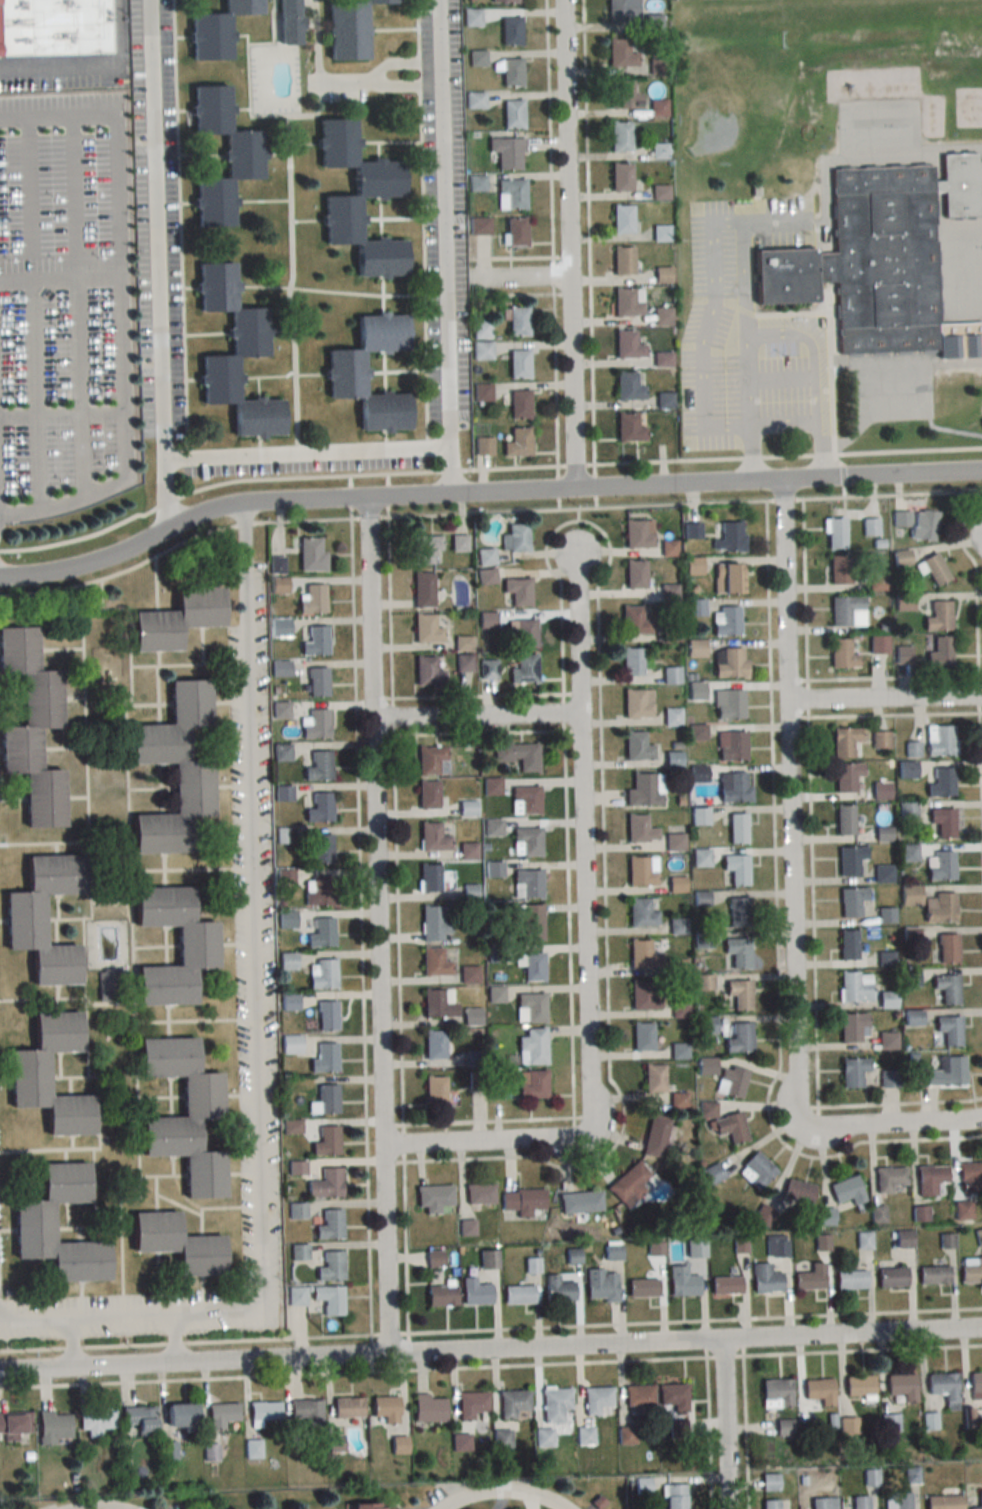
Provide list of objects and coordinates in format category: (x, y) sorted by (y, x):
building: (505, 1)
building: (621, 12)
building: (471, 17)
building: (287, 22)
building: (52, 25)
building: (214, 30)
building: (345, 30)
building: (510, 31)
building: (619, 54)
road: (87, 62)
building: (510, 72)
road: (374, 74)
road: (346, 77)
building: (621, 96)
building: (657, 108)
road: (58, 113)
building: (512, 114)
road: (553, 127)
building: (619, 137)
building: (658, 151)
building: (506, 152)
building: (240, 156)
building: (59, 169)
building: (620, 177)
road: (73, 182)
building: (476, 182)
road: (28, 184)
road: (118, 192)
building: (660, 192)
building: (510, 193)
building: (350, 197)
building: (621, 218)
building: (514, 231)
road: (590, 231)
building: (660, 232)
road: (568, 242)
building: (881, 259)
building: (622, 260)
road: (554, 274)
building: (661, 274)
road: (60, 275)
road: (517, 279)
building: (627, 301)
building: (663, 315)
building: (516, 320)
building: (480, 329)
road: (704, 331)
building: (627, 344)
road: (748, 348)
building: (233, 354)
building: (662, 359)
building: (518, 363)
building: (342, 372)
road: (813, 372)
road: (782, 374)
road: (124, 375)
road: (556, 379)
road: (79, 385)
building: (628, 385)
road: (34, 392)
building: (664, 400)
building: (518, 404)
road: (62, 413)
building: (628, 428)
road: (949, 428)
building: (517, 442)
road: (301, 451)
road: (576, 464)
road: (450, 469)
road: (484, 490)
road: (165, 491)
road: (893, 495)
road: (785, 499)
road: (66, 501)
road: (578, 509)
road: (579, 514)
road: (371, 517)
building: (917, 523)
building: (870, 526)
building: (691, 530)
building: (834, 533)
building: (636, 535)
building: (729, 537)
building: (515, 538)
building: (458, 542)
building: (424, 548)
building: (310, 554)
building: (485, 556)
building: (839, 569)
building: (933, 569)
building: (634, 574)
building: (486, 576)
building: (728, 578)
building: (876, 583)
road: (980, 583)
building: (423, 589)
road: (806, 589)
building: (516, 592)
building: (670, 593)
building: (312, 600)
road: (392, 607)
building: (847, 611)
building: (938, 616)
building: (173, 619)
building: (634, 621)
building: (725, 621)
building: (426, 629)
building: (525, 633)
building: (671, 634)
building: (315, 640)
building: (463, 643)
building: (877, 644)
building: (695, 647)
building: (939, 652)
building: (841, 654)
building: (902, 654)
building: (631, 661)
building: (729, 662)
building: (463, 663)
building: (488, 669)
building: (524, 669)
building: (427, 672)
building: (671, 675)
road: (895, 677)
building: (317, 681)
road: (981, 694)
road: (479, 695)
road: (808, 697)
road: (885, 701)
building: (637, 703)
building: (728, 703)
road: (564, 711)
road: (896, 714)
road: (395, 716)
road: (474, 717)
building: (672, 717)
building: (315, 724)
building: (30, 729)
building: (697, 732)
road: (480, 733)
building: (880, 740)
building: (940, 740)
building: (846, 742)
building: (731, 745)
building: (637, 746)
building: (912, 749)
building: (281, 752)
building: (519, 755)
building: (673, 759)
building: (431, 760)
building: (318, 766)
building: (171, 770)
building: (906, 770)
building: (847, 778)
building: (941, 783)
building: (734, 787)
building: (645, 790)
building: (427, 794)
building: (525, 800)
road: (790, 802)
building: (319, 808)
building: (467, 808)
building: (844, 819)
building: (942, 822)
building: (492, 828)
building: (639, 828)
building: (737, 828)
building: (432, 837)
road: (604, 838)
building: (526, 841)
building: (674, 841)
road: (581, 844)
building: (322, 848)
building: (908, 852)
building: (850, 859)
building: (939, 865)
building: (735, 869)
building: (641, 870)
building: (883, 873)
building: (435, 879)
building: (527, 883)
building: (318, 891)
building: (909, 894)
building: (851, 901)
building: (939, 907)
road: (814, 910)
building: (641, 912)
building: (737, 912)
building: (885, 914)
building: (21, 919)
building: (286, 919)
building: (531, 921)
building: (434, 922)
road: (362, 926)
road: (376, 926)
building: (677, 926)
road: (777, 926)
road: (400, 929)
building: (321, 933)
building: (847, 944)
building: (193, 947)
building: (947, 948)
building: (737, 952)
building: (642, 955)
building: (286, 961)
building: (434, 962)
road: (253, 963)
building: (532, 967)
building: (321, 974)
building: (469, 974)
building: (889, 977)
building: (703, 982)
building: (854, 986)
building: (945, 989)
building: (495, 994)
building: (738, 994)
building: (643, 995)
building: (886, 999)
building: (438, 1003)
building: (530, 1008)
road: (572, 1009)
building: (326, 1016)
building: (912, 1018)
building: (706, 1025)
building: (854, 1027)
building: (949, 1029)
building: (641, 1037)
building: (739, 1038)
building: (887, 1041)
building: (290, 1045)
building: (433, 1045)
building: (532, 1047)
building: (679, 1051)
building: (324, 1059)
building: (705, 1066)
building: (852, 1072)
building: (946, 1072)
building: (26, 1074)
building: (653, 1078)
building: (888, 1079)
building: (731, 1082)
building: (531, 1084)
building: (434, 1091)
building: (324, 1100)
building: (678, 1100)
road: (900, 1101)
building: (180, 1115)
building: (290, 1126)
road: (893, 1126)
building: (730, 1127)
building: (655, 1135)
building: (326, 1141)
road: (405, 1142)
road: (483, 1144)
building: (296, 1167)
building: (755, 1170)
building: (970, 1178)
building: (888, 1179)
building: (929, 1179)
building: (326, 1183)
building: (628, 1184)
building: (846, 1191)
building: (795, 1193)
building: (478, 1195)
building: (433, 1198)
building: (522, 1201)
building: (580, 1202)
building: (296, 1210)
building: (962, 1210)
building: (826, 1216)
building: (37, 1222)
building: (329, 1225)
building: (978, 1237)
building: (903, 1239)
building: (863, 1241)
building: (947, 1241)
building: (821, 1242)
building: (174, 1244)
road: (407, 1247)
building: (780, 1247)
building: (434, 1258)
building: (488, 1260)
building: (531, 1265)
building: (330, 1266)
building: (971, 1270)
building: (932, 1275)
building: (891, 1278)
building: (765, 1279)
building: (809, 1279)
building: (850, 1280)
building: (682, 1282)
building: (601, 1285)
building: (725, 1285)
building: (642, 1288)
building: (558, 1290)
building: (475, 1293)
building: (518, 1295)
building: (295, 1296)
building: (440, 1296)
building: (328, 1299)
road: (63, 1317)
road: (696, 1320)
road: (390, 1333)
road: (173, 1340)
road: (186, 1342)
road: (73, 1343)
road: (863, 1350)
road: (491, 1352)
road: (725, 1355)
road: (353, 1371)
building: (859, 1385)
building: (901, 1386)
building: (944, 1388)
building: (819, 1390)
building: (775, 1393)
building: (638, 1395)
building: (672, 1398)
building: (596, 1399)
building: (512, 1402)
building: (554, 1403)
building: (470, 1405)
building: (347, 1407)
building: (428, 1408)
building: (385, 1409)
building: (263, 1410)
building: (223, 1414)
building: (305, 1414)
building: (185, 1415)
building: (143, 1419)
building: (98, 1420)
building: (929, 1420)
building: (889, 1422)
building: (14, 1424)
building: (56, 1426)
road: (725, 1426)
building: (677, 1428)
road: (708, 1432)
road: (746, 1432)
building: (585, 1435)
building: (625, 1435)
building: (543, 1437)
building: (501, 1438)
building: (460, 1442)
building: (252, 1449)
building: (169, 1450)
building: (769, 1481)
road: (500, 1495)
building: (673, 1496)
building: (902, 1500)
building: (978, 1500)
building: (942, 1501)
building: (860, 1502)
building: (823, 1503)
building: (769, 1504)
building: (373, 1506)

